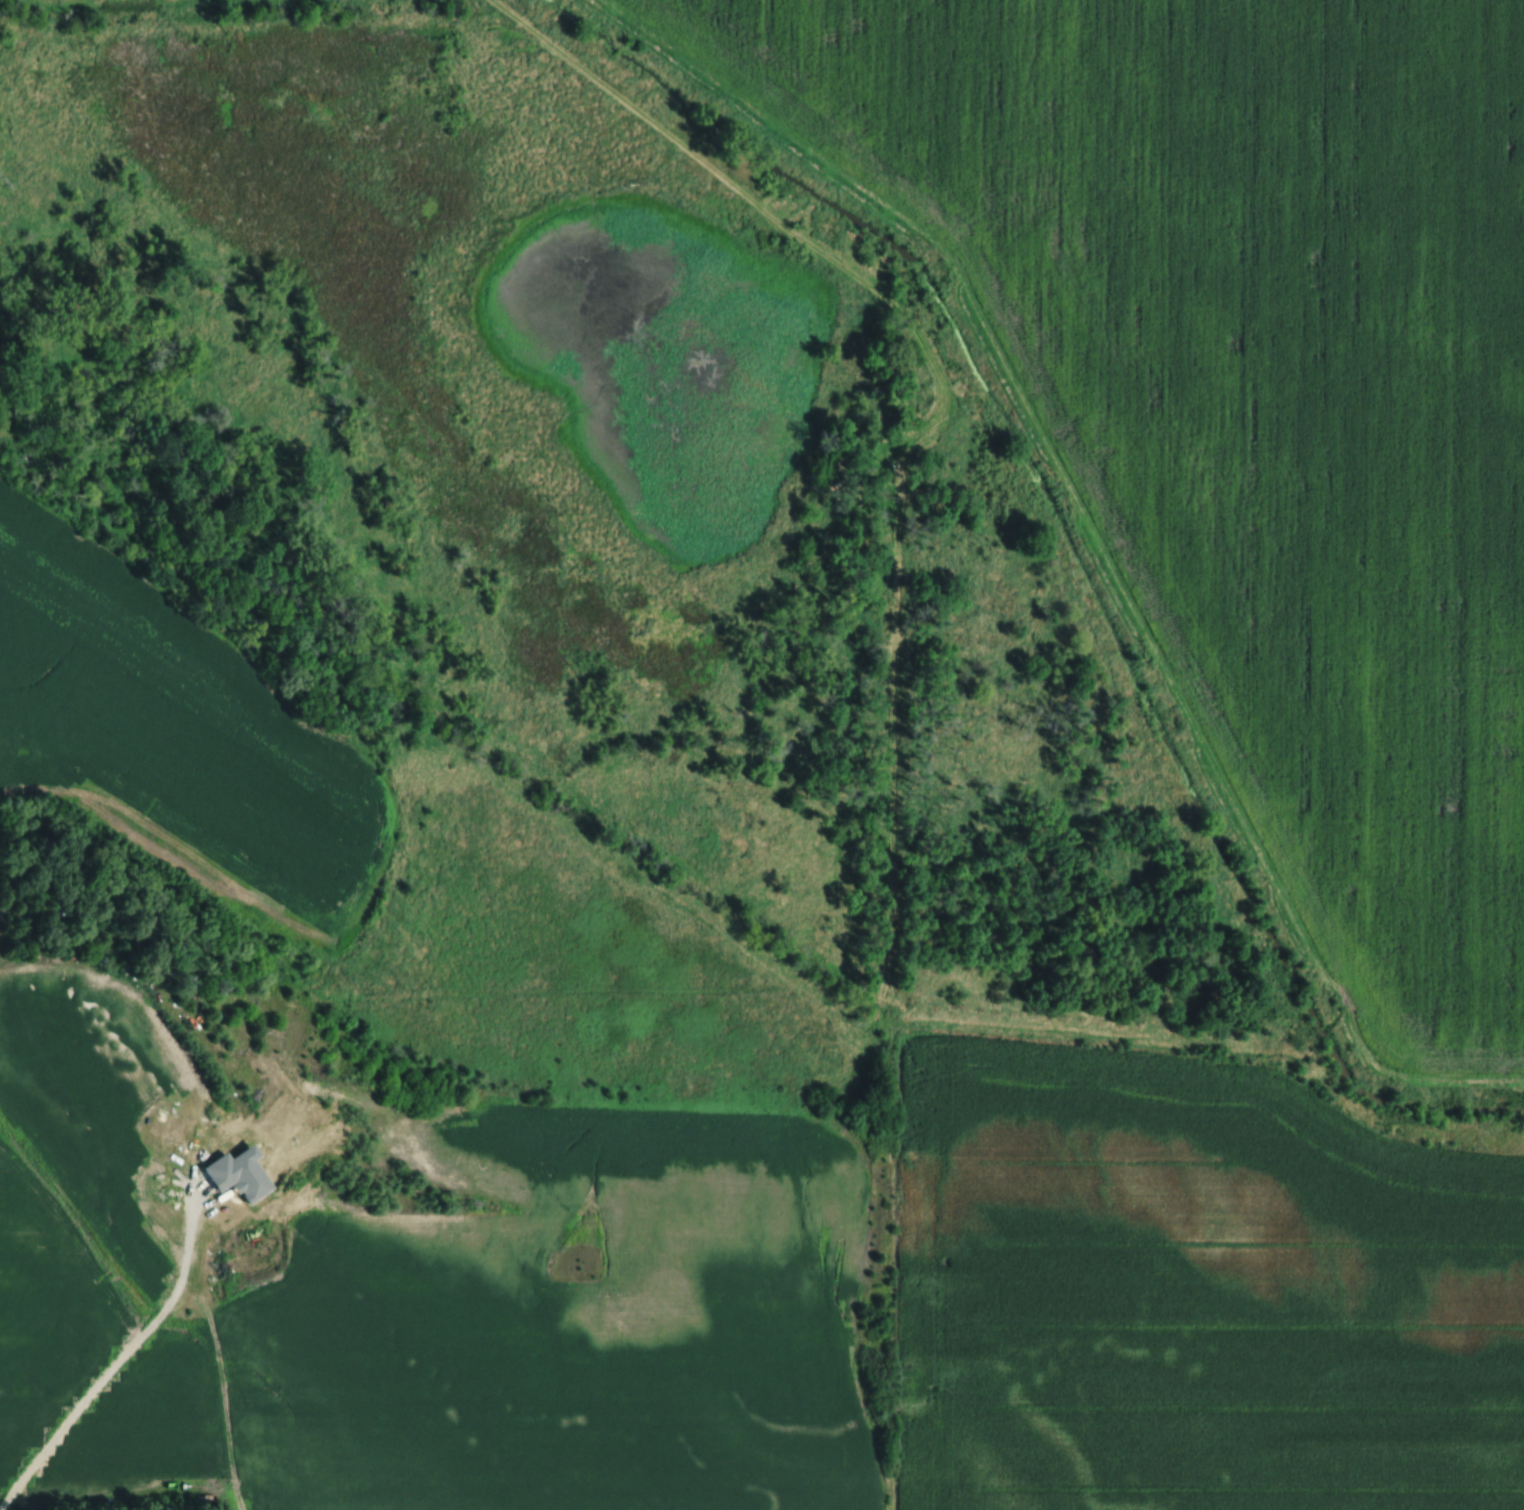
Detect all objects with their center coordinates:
road: (115, 1364)

